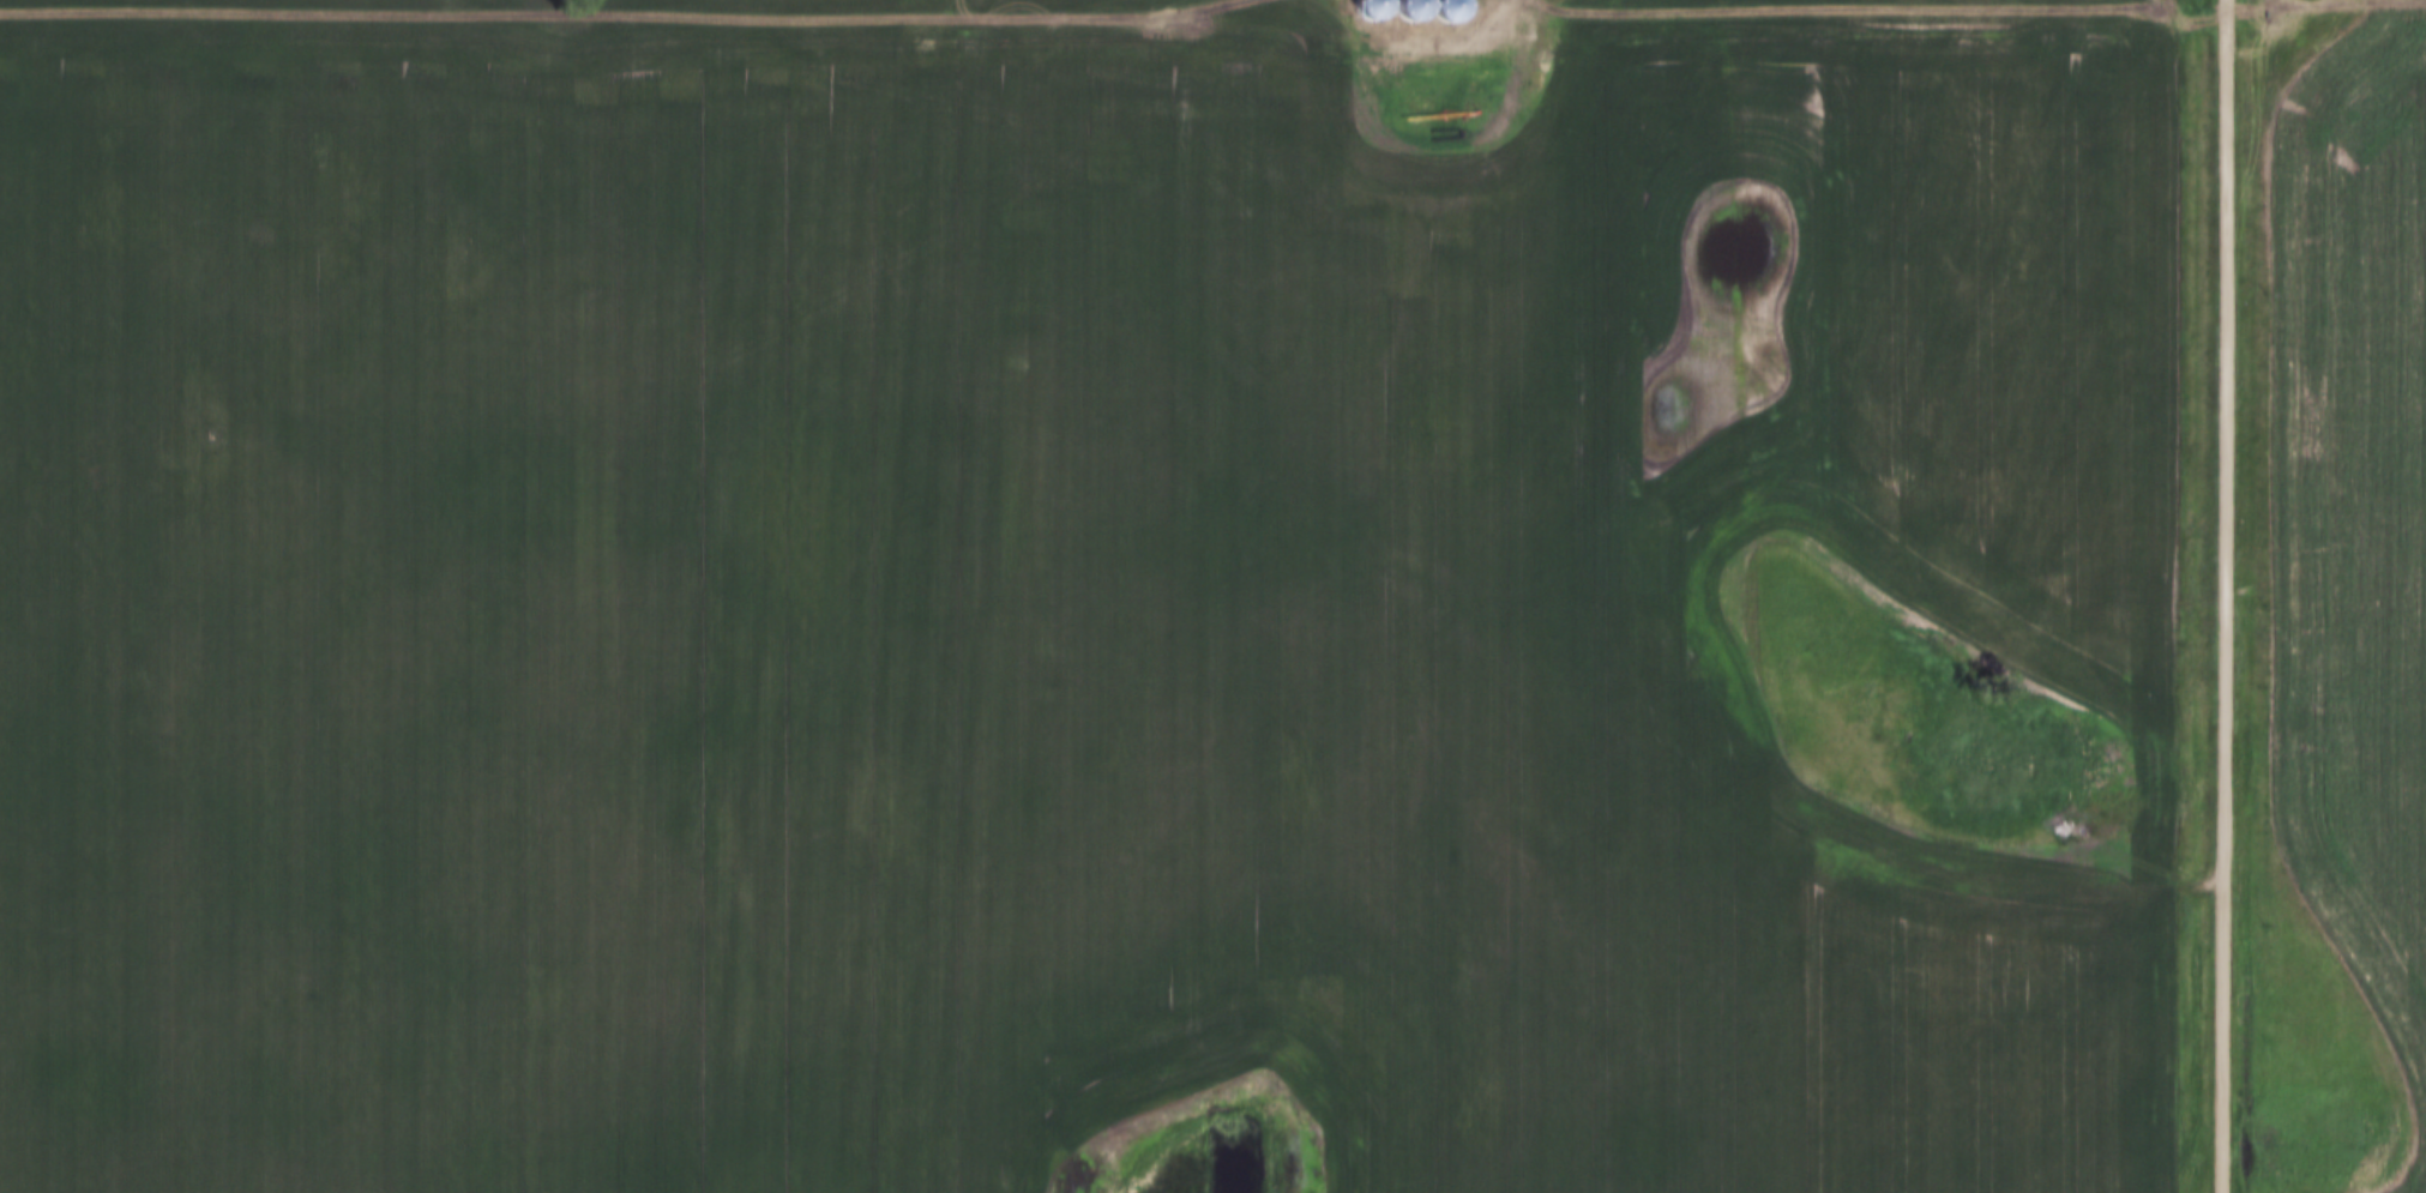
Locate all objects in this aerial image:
road: (2226, 596)

